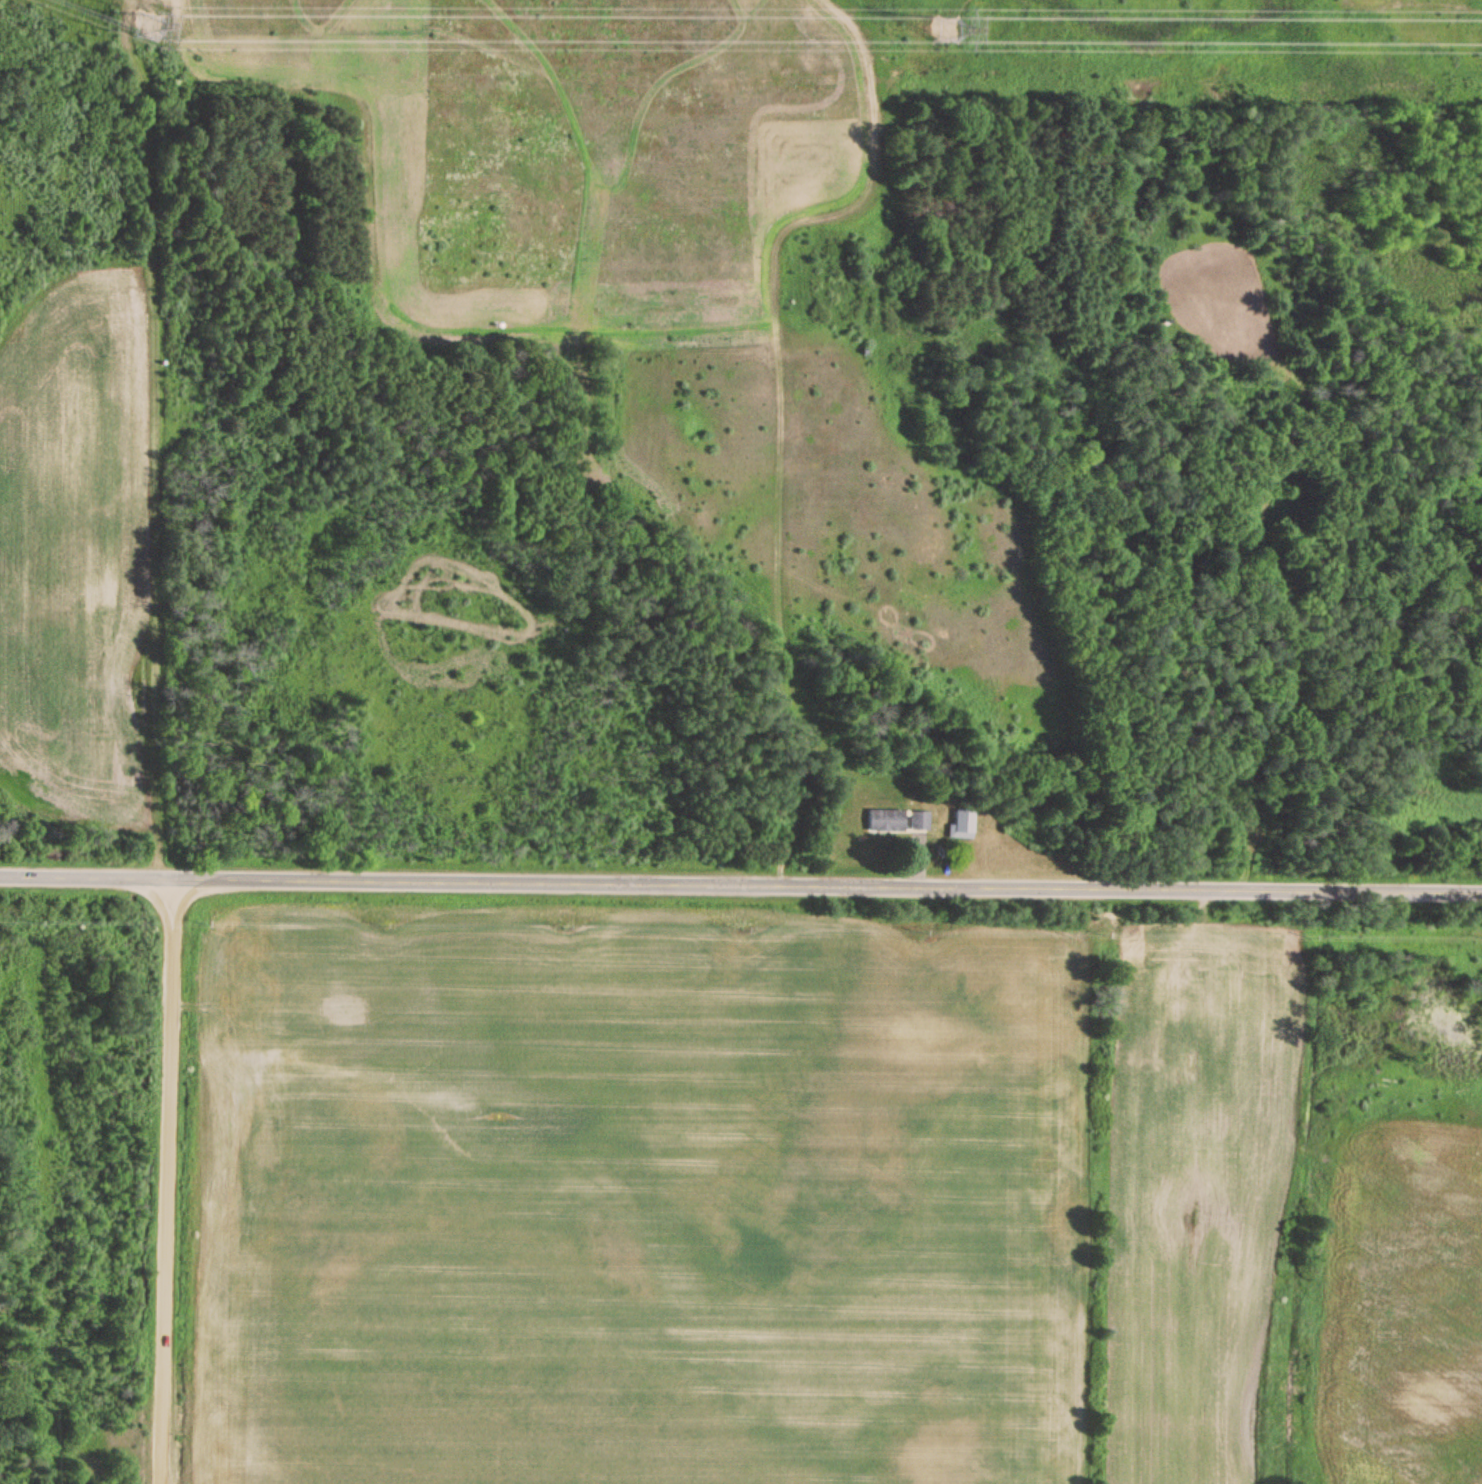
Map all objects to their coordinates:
power tower: (151, 23)
power tower: (939, 25)
building: (882, 823)
building: (917, 823)
road: (740, 885)
road: (166, 1181)

